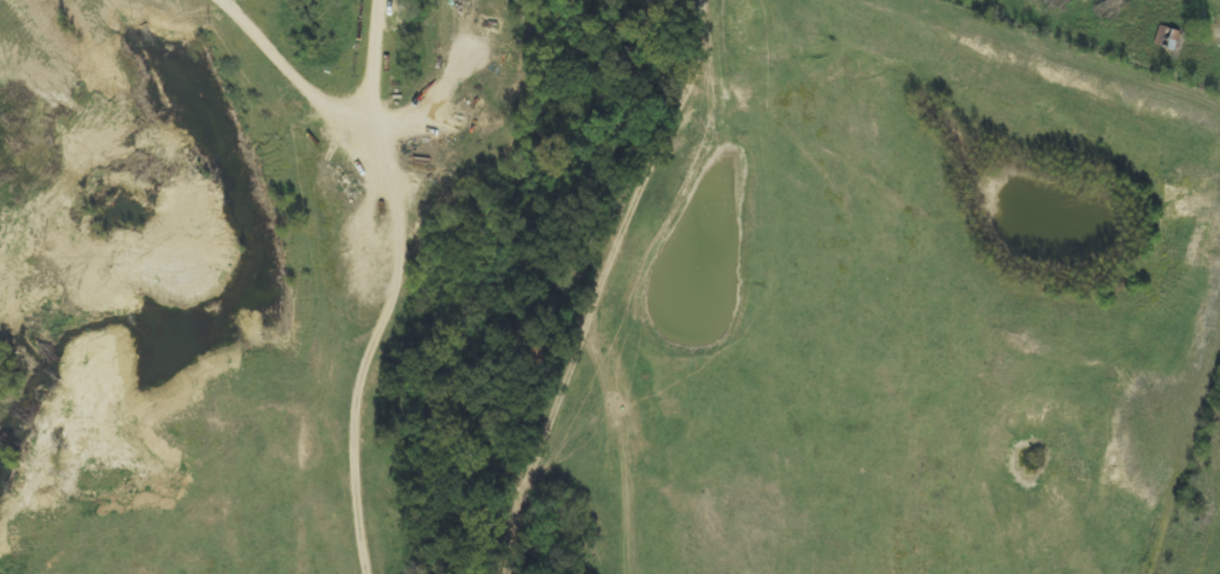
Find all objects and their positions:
road: (1198, 64)
road: (4, 86)
road: (10, 136)
road: (130, 279)
road: (635, 287)

